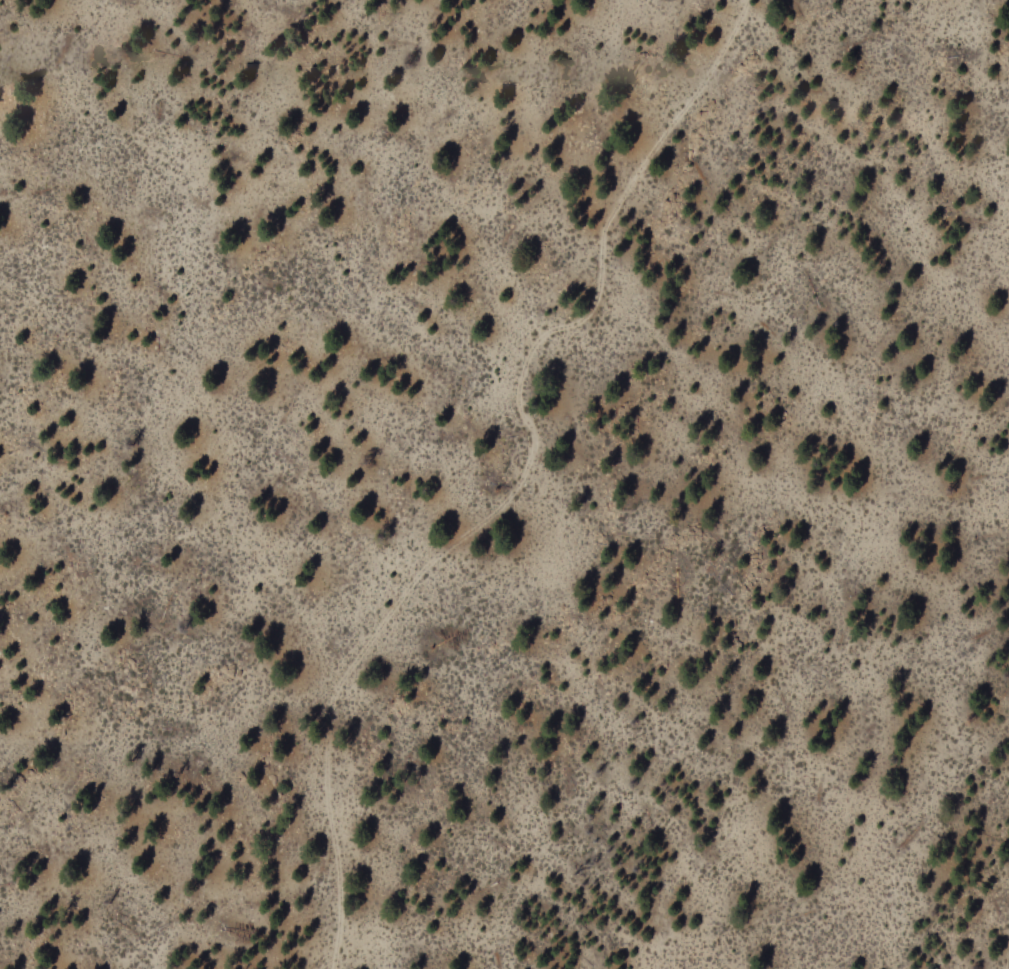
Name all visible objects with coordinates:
road: (509, 484)

